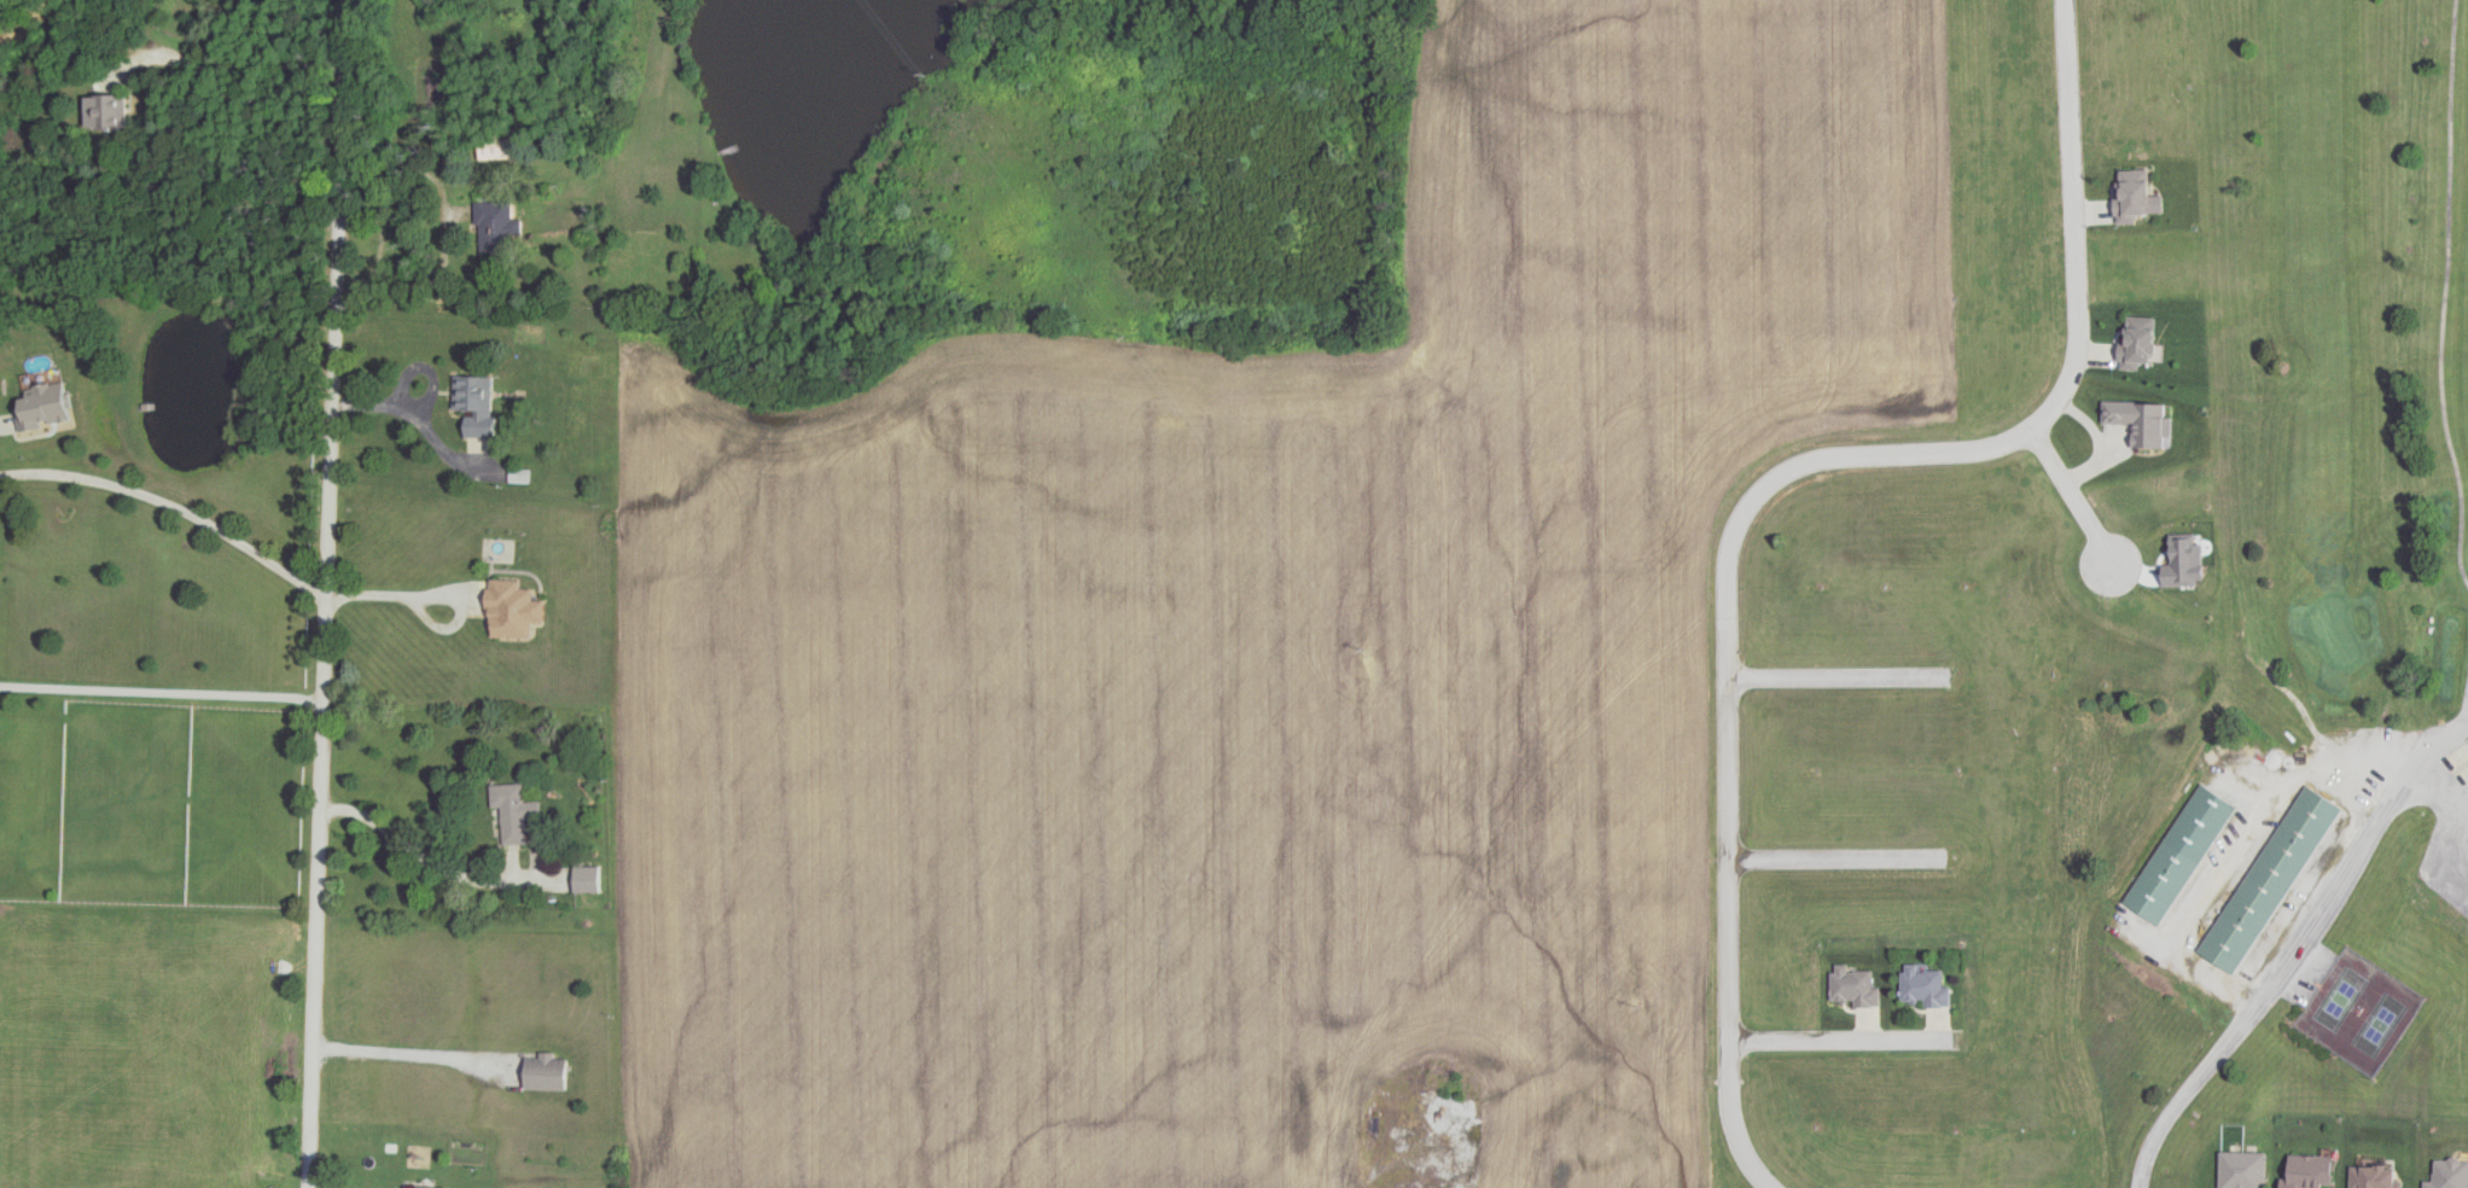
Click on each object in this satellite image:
building: (104, 112)
building: (495, 147)
building: (495, 226)
building: (2135, 342)
building: (473, 406)
building: (41, 407)
road: (1770, 489)
road: (314, 594)
road: (423, 596)
building: (510, 611)
park: (2301, 621)
crop: (1269, 659)
building: (512, 811)
road: (179, 816)
building: (2179, 855)
building: (588, 878)
building: (2269, 880)
building: (1852, 986)
road: (2265, 996)
building: (543, 1071)
building: (2242, 1170)
building: (2306, 1171)
building: (2449, 1174)
building: (2374, 1176)
building: (426, 1186)

